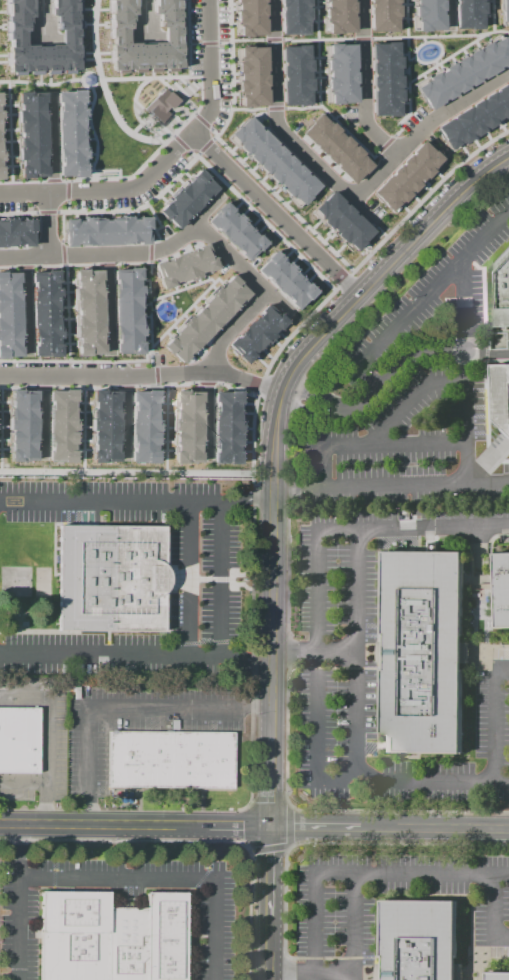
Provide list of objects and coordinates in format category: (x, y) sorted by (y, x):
building: (504, 10)
road: (446, 12)
building: (467, 13)
building: (381, 14)
building: (426, 14)
building: (337, 15)
road: (491, 15)
building: (249, 16)
building: (293, 16)
road: (40, 18)
building: (118, 36)
road: (425, 36)
building: (13, 38)
road: (185, 38)
road: (362, 38)
road: (247, 39)
road: (272, 39)
road: (316, 40)
road: (192, 43)
road: (208, 43)
road: (223, 43)
park: (430, 51)
road: (456, 51)
road: (317, 52)
road: (406, 72)
building: (464, 72)
building: (250, 74)
building: (295, 74)
building: (340, 74)
road: (185, 77)
building: (385, 78)
building: (87, 79)
road: (80, 82)
road: (361, 82)
road: (40, 84)
road: (103, 89)
park: (122, 99)
building: (160, 106)
road: (275, 107)
road: (248, 109)
road: (134, 114)
road: (336, 115)
building: (474, 117)
road: (202, 121)
road: (335, 122)
road: (421, 124)
building: (0, 127)
road: (280, 129)
road: (8, 132)
building: (68, 132)
road: (91, 132)
park: (142, 132)
road: (214, 132)
building: (30, 133)
park: (114, 141)
road: (49, 144)
road: (181, 144)
road: (206, 144)
road: (385, 144)
building: (335, 148)
road: (196, 154)
building: (272, 161)
building: (0, 162)
road: (168, 163)
building: (405, 175)
road: (120, 177)
road: (21, 181)
road: (50, 181)
road: (67, 191)
building: (186, 198)
road: (66, 206)
road: (208, 208)
road: (122, 211)
road: (46, 212)
road: (17, 213)
road: (278, 213)
road: (152, 215)
building: (341, 221)
road: (52, 223)
road: (308, 228)
building: (105, 231)
building: (234, 231)
building: (16, 232)
road: (154, 233)
road: (148, 252)
road: (62, 254)
road: (103, 254)
road: (302, 259)
road: (104, 264)
road: (131, 264)
building: (183, 265)
road: (63, 266)
road: (240, 266)
road: (23, 267)
road: (8, 268)
road: (382, 271)
road: (209, 280)
building: (284, 280)
road: (342, 280)
road: (433, 293)
building: (500, 293)
road: (24, 303)
road: (106, 303)
park: (169, 306)
building: (126, 312)
building: (44, 313)
road: (66, 313)
building: (88, 313)
road: (149, 314)
building: (9, 316)
building: (204, 318)
road: (233, 330)
building: (255, 333)
road: (416, 358)
road: (73, 361)
road: (146, 373)
road: (466, 374)
road: (139, 375)
road: (369, 380)
road: (167, 384)
road: (204, 384)
road: (259, 385)
road: (43, 386)
road: (85, 386)
road: (128, 386)
road: (18, 387)
road: (233, 388)
parking lot: (412, 393)
building: (501, 395)
road: (313, 396)
road: (419, 401)
road: (366, 403)
road: (487, 411)
road: (311, 413)
road: (42, 418)
road: (202, 418)
road: (123, 419)
road: (272, 421)
building: (21, 424)
building: (60, 424)
building: (103, 424)
building: (144, 425)
building: (186, 426)
building: (225, 427)
road: (82, 428)
road: (166, 428)
road: (394, 444)
road: (322, 469)
road: (164, 472)
road: (252, 485)
road: (364, 488)
road: (111, 504)
road: (316, 558)
building: (110, 578)
road: (220, 579)
road: (189, 580)
road: (221, 580)
building: (502, 588)
road: (272, 590)
road: (288, 652)
building: (423, 652)
road: (357, 654)
road: (110, 656)
road: (250, 658)
road: (124, 710)
road: (495, 720)
road: (46, 738)
building: (19, 740)
building: (171, 761)
road: (272, 780)
road: (413, 781)
road: (23, 783)
road: (241, 824)
road: (97, 825)
road: (234, 825)
road: (317, 825)
road: (382, 826)
road: (455, 826)
road: (120, 840)
road: (288, 842)
road: (248, 847)
road: (424, 874)
road: (501, 875)
road: (165, 881)
road: (18, 902)
road: (272, 902)
road: (316, 907)
road: (494, 912)
road: (251, 917)
road: (354, 927)
building: (111, 937)
building: (420, 941)
road: (312, 974)
building: (499, 976)

